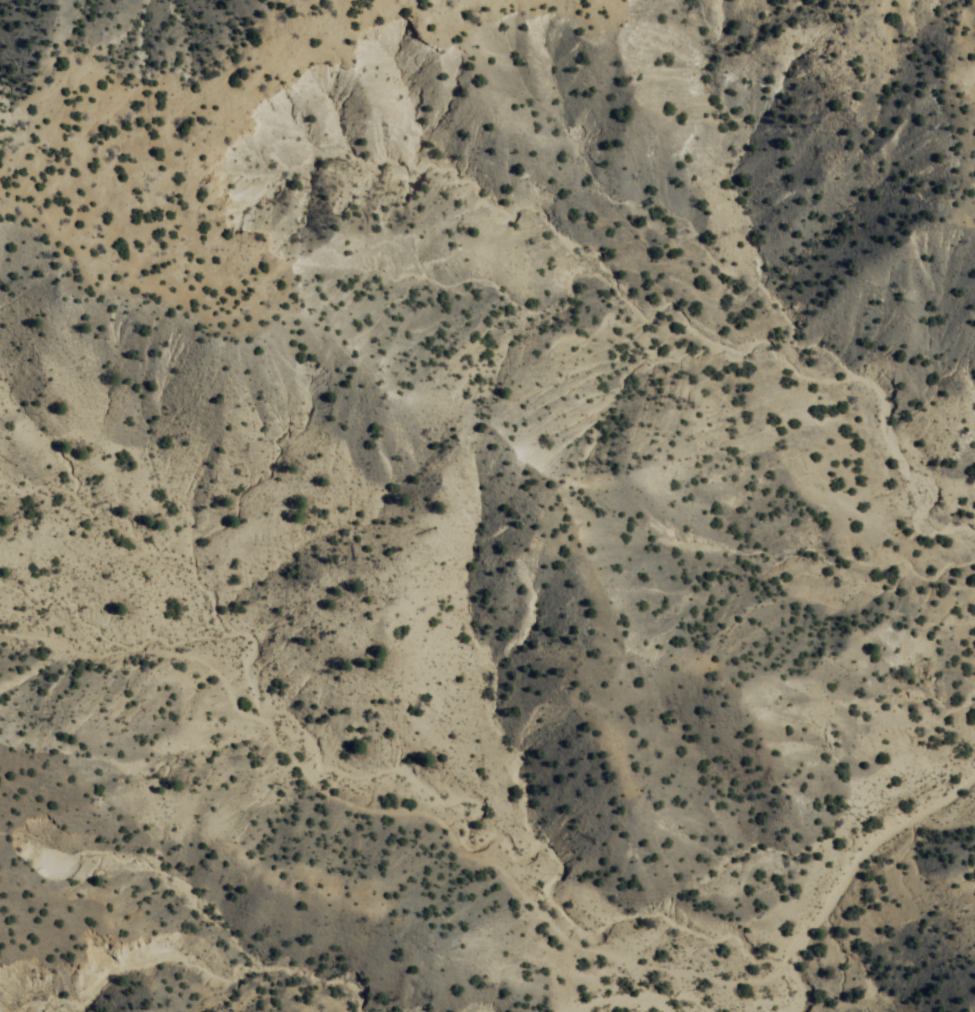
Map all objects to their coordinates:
road: (389, 811)

